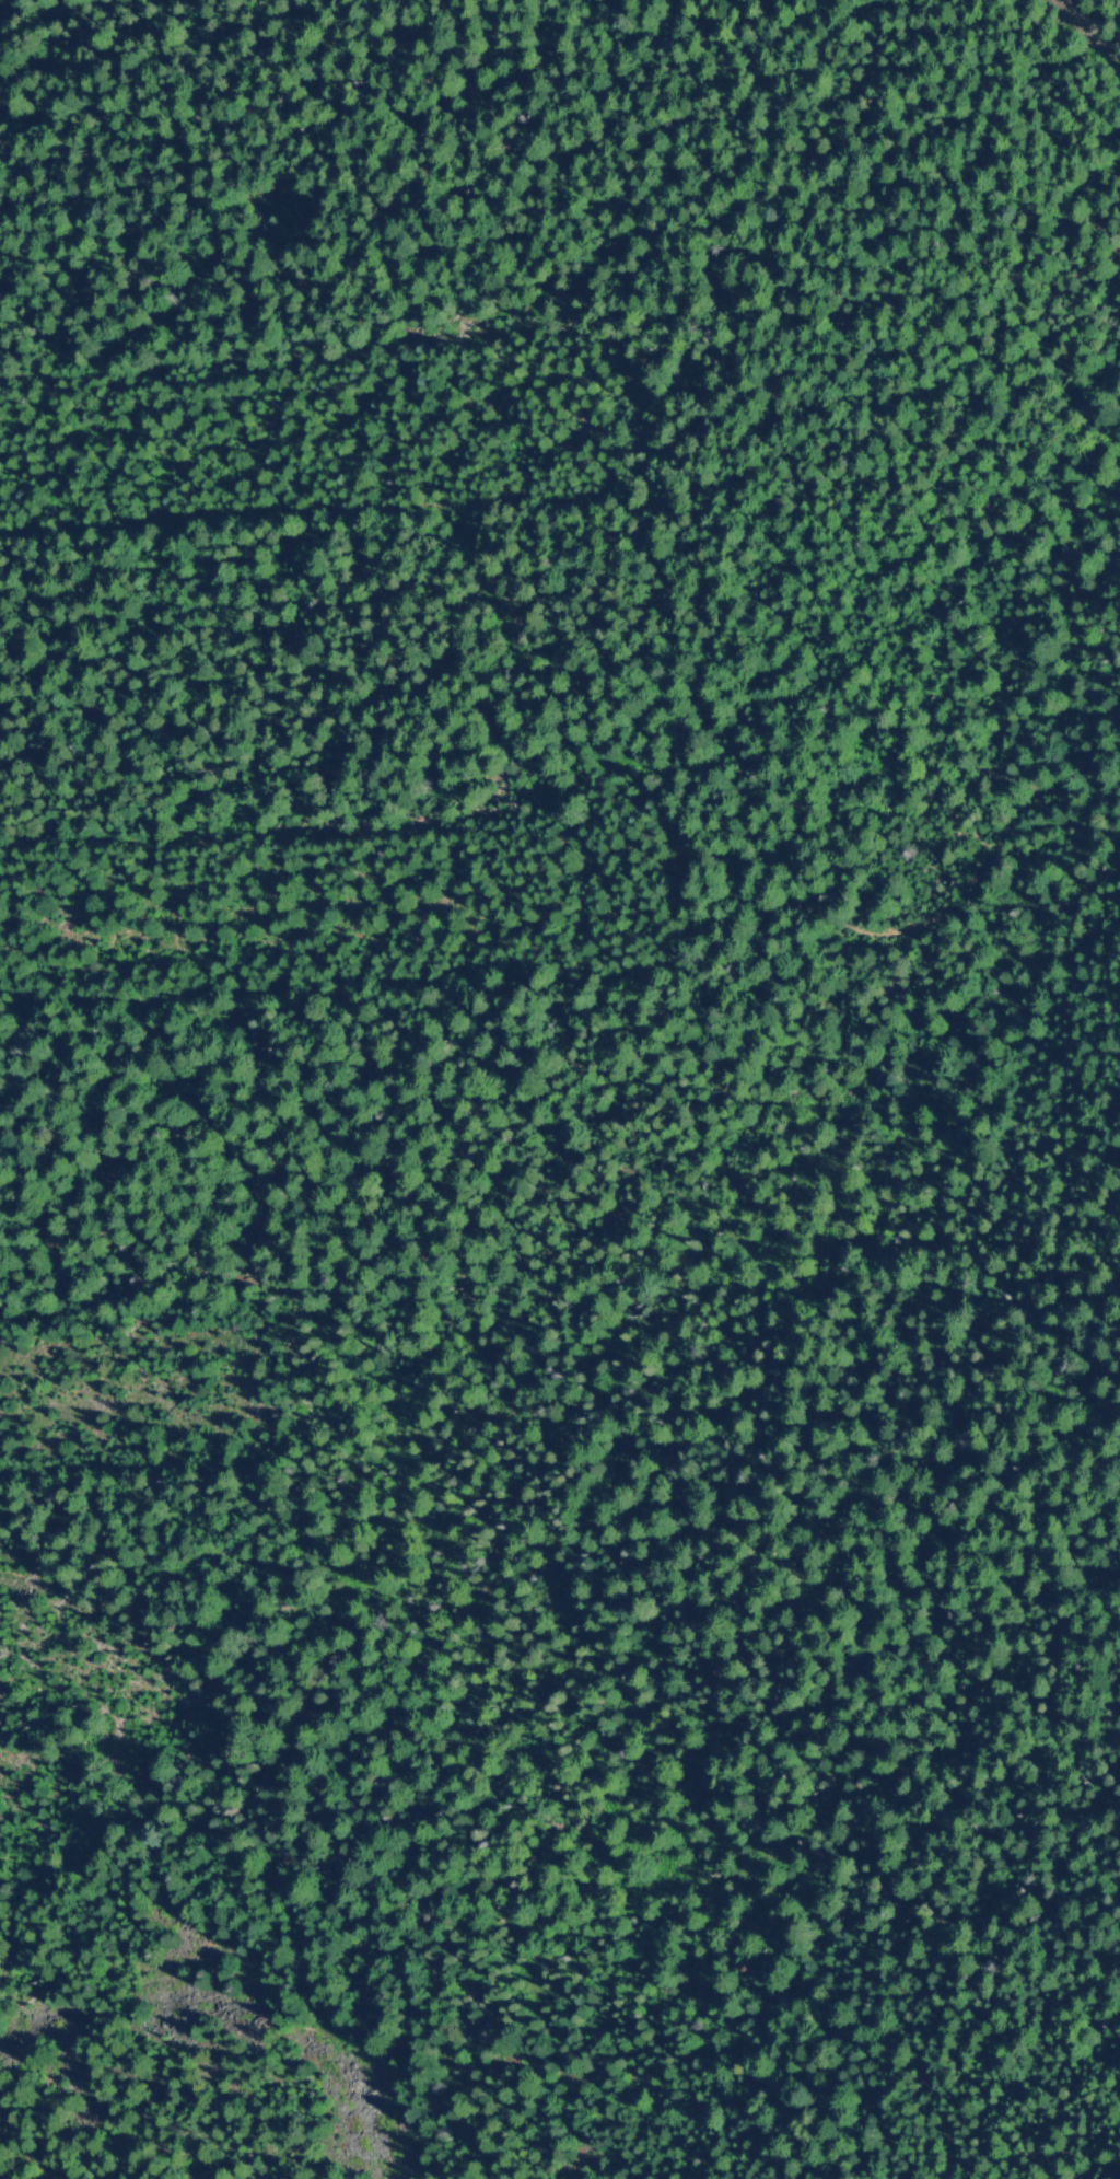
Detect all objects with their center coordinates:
road: (1099, 1380)

